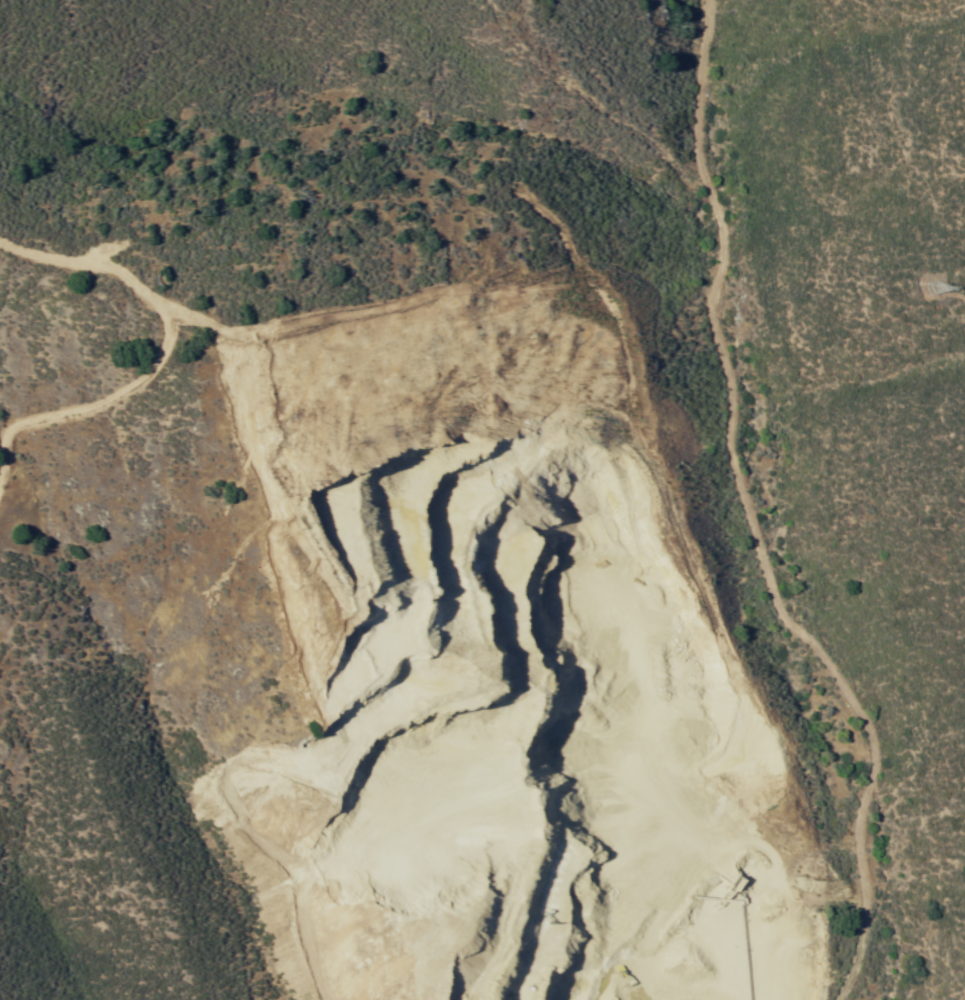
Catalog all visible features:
road: (586, 96)
road: (364, 519)
road: (747, 520)
quarry: (609, 847)

